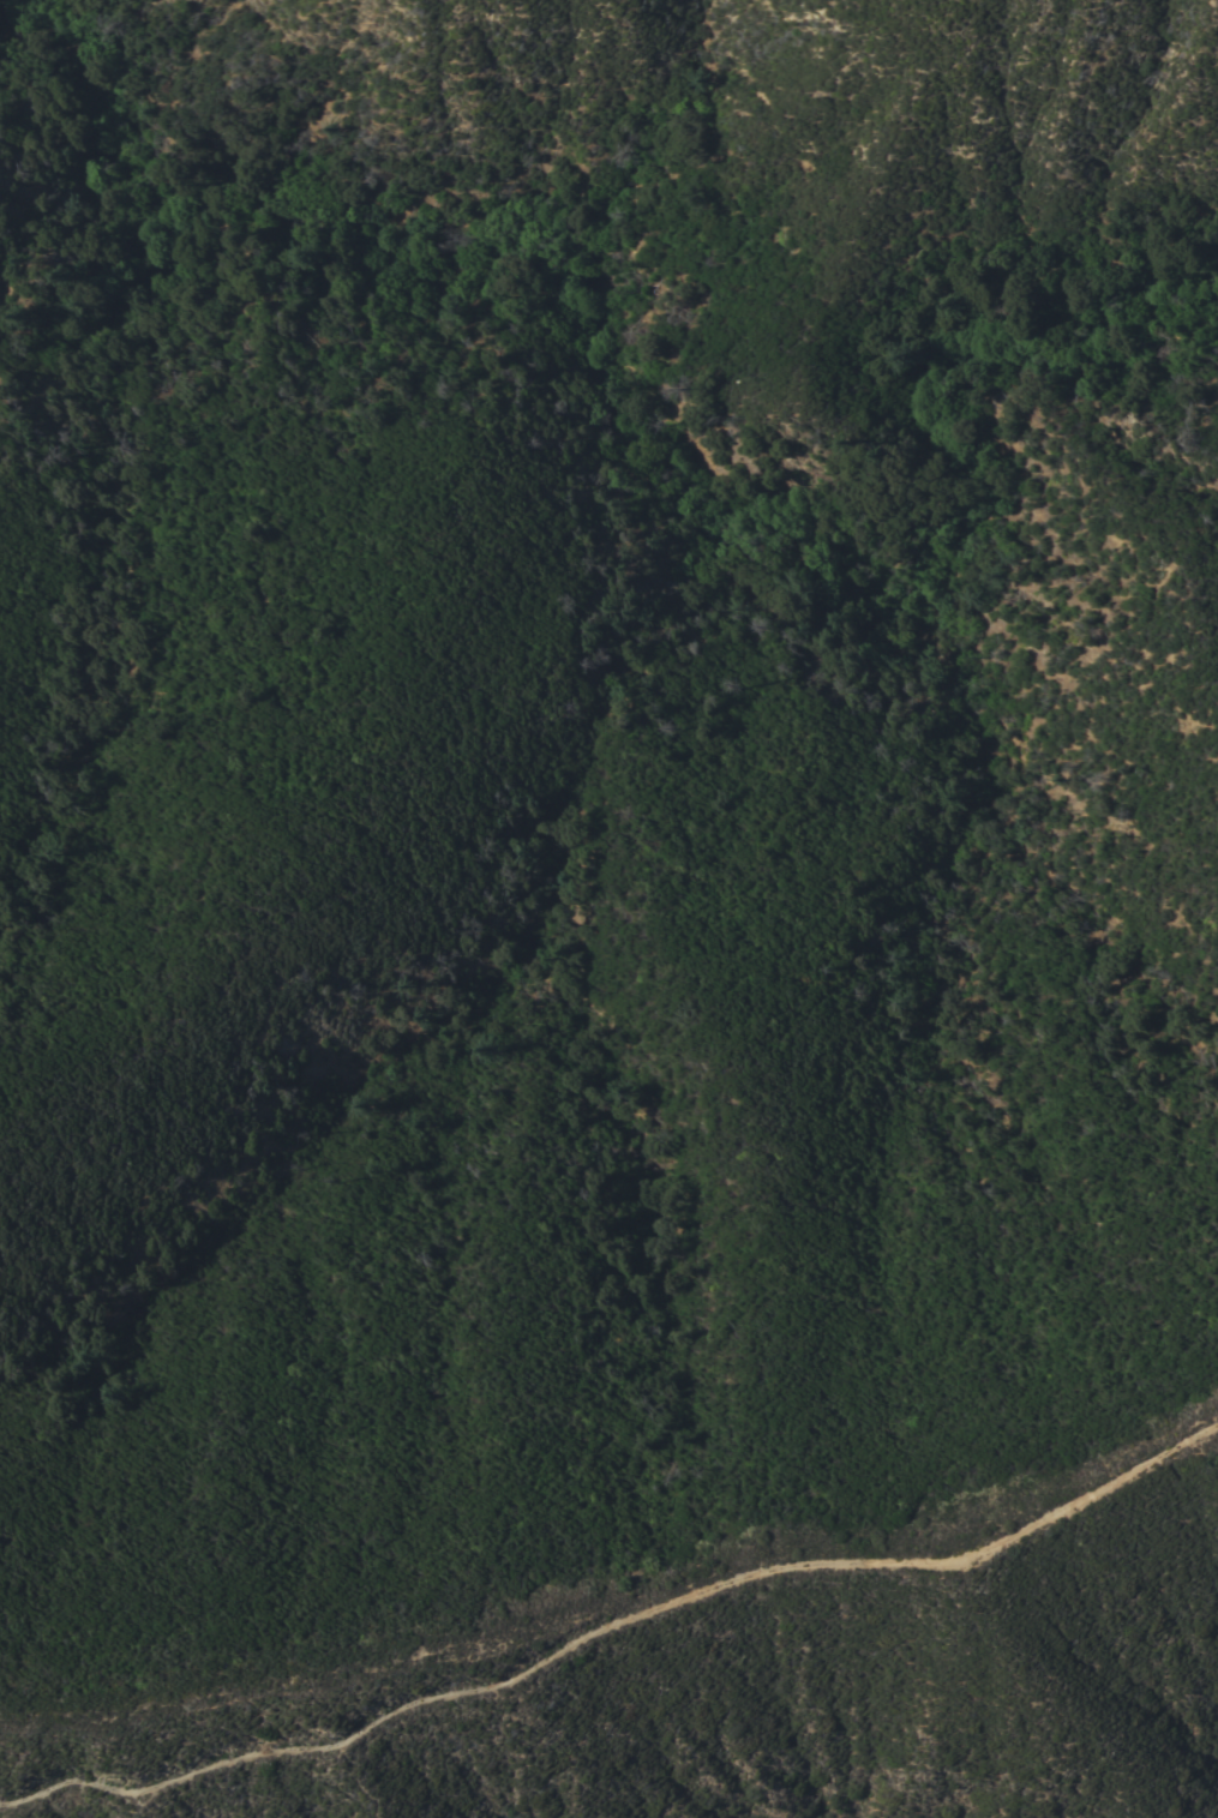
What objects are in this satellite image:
road: (608, 1636)

